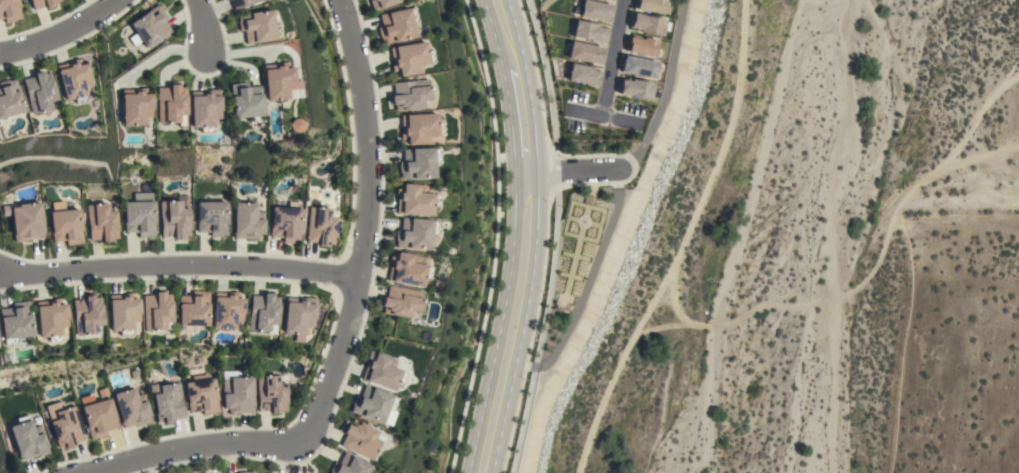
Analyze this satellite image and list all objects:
building: (608, 0)
building: (612, 0)
building: (43, 3)
building: (241, 3)
building: (381, 3)
building: (653, 6)
building: (9, 10)
building: (596, 10)
building: (648, 24)
building: (150, 25)
road: (207, 25)
building: (396, 25)
building: (257, 26)
road: (501, 28)
road: (58, 30)
building: (590, 31)
building: (642, 45)
building: (586, 52)
building: (409, 58)
road: (618, 58)
building: (640, 66)
building: (583, 74)
road: (545, 77)
building: (73, 80)
building: (279, 82)
building: (635, 88)
building: (39, 91)
building: (409, 94)
building: (9, 100)
building: (245, 101)
building: (170, 103)
building: (136, 106)
building: (203, 108)
road: (519, 114)
road: (609, 117)
building: (294, 125)
building: (418, 128)
building: (417, 163)
road: (573, 169)
road: (555, 172)
building: (414, 200)
building: (140, 214)
building: (211, 217)
building: (174, 219)
building: (26, 220)
building: (247, 221)
building: (102, 222)
building: (286, 222)
building: (66, 226)
building: (321, 226)
building: (414, 233)
road: (494, 236)
road: (679, 242)
road: (179, 266)
building: (408, 269)
building: (401, 301)
building: (227, 309)
building: (193, 310)
building: (157, 311)
building: (123, 312)
building: (263, 313)
building: (87, 314)
building: (298, 314)
building: (51, 318)
building: (15, 322)
road: (509, 323)
road: (342, 324)
road: (531, 329)
road: (540, 330)
building: (382, 371)
building: (237, 392)
building: (272, 393)
building: (202, 396)
building: (169, 403)
building: (375, 405)
building: (132, 407)
building: (98, 415)
building: (67, 426)
building: (29, 438)
building: (362, 439)
building: (349, 465)
building: (245, 472)

